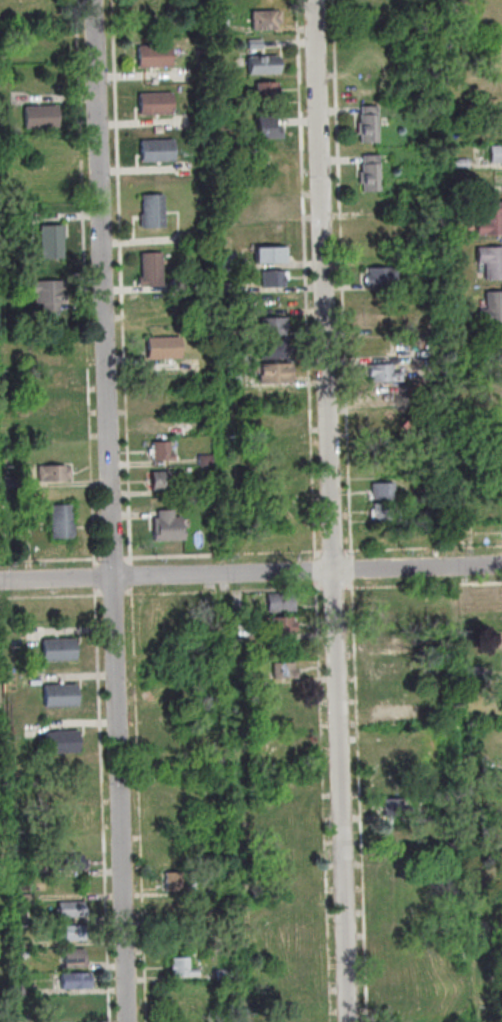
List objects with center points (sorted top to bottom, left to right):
building: (405, 0)
building: (362, 8)
building: (492, 11)
building: (266, 22)
building: (222, 27)
building: (256, 46)
building: (45, 49)
building: (155, 59)
building: (264, 66)
building: (497, 71)
building: (267, 91)
building: (156, 106)
building: (43, 119)
building: (371, 125)
building: (268, 132)
building: (158, 152)
building: (497, 156)
building: (269, 160)
building: (460, 164)
building: (372, 174)
building: (49, 190)
building: (272, 208)
building: (153, 212)
building: (491, 221)
building: (378, 229)
building: (53, 243)
building: (272, 255)
building: (229, 261)
building: (492, 263)
building: (152, 271)
building: (382, 277)
building: (274, 279)
road: (344, 279)
road: (307, 280)
road: (86, 283)
road: (123, 283)
building: (181, 286)
building: (230, 288)
building: (50, 293)
building: (493, 310)
building: (276, 327)
building: (165, 350)
building: (275, 351)
building: (275, 373)
building: (384, 374)
building: (234, 379)
building: (55, 380)
building: (14, 387)
building: (497, 388)
building: (159, 399)
building: (58, 402)
building: (277, 420)
building: (60, 427)
building: (163, 452)
building: (207, 460)
building: (279, 466)
building: (55, 474)
building: (161, 482)
building: (12, 483)
building: (384, 491)
road: (112, 510)
road: (333, 510)
building: (384, 513)
building: (468, 516)
building: (437, 517)
building: (63, 524)
building: (168, 529)
building: (377, 532)
road: (424, 549)
road: (335, 552)
road: (225, 555)
road: (114, 559)
road: (51, 561)
road: (353, 569)
road: (316, 570)
road: (251, 572)
road: (132, 576)
road: (96, 577)
road: (350, 588)
road: (335, 589)
road: (224, 592)
road: (113, 595)
road: (51, 597)
building: (387, 600)
building: (281, 602)
building: (62, 609)
building: (387, 622)
building: (283, 625)
building: (168, 628)
building: (240, 630)
building: (59, 649)
building: (390, 666)
building: (283, 671)
building: (473, 673)
building: (244, 677)
building: (389, 689)
building: (285, 692)
building: (61, 695)
building: (172, 695)
building: (500, 696)
building: (285, 715)
building: (288, 740)
building: (62, 741)
building: (169, 742)
building: (475, 763)
building: (289, 783)
building: (392, 783)
building: (67, 791)
building: (172, 793)
road: (360, 800)
road: (324, 801)
road: (139, 804)
road: (102, 805)
building: (394, 807)
building: (290, 809)
building: (395, 831)
building: (174, 850)
building: (69, 861)
building: (398, 862)
building: (290, 879)
building: (174, 882)
building: (220, 886)
building: (23, 898)
building: (394, 900)
building: (290, 903)
building: (72, 909)
building: (399, 924)
building: (294, 930)
building: (74, 932)
building: (24, 944)
building: (402, 947)
building: (295, 952)
building: (24, 954)
building: (74, 957)
building: (182, 967)
building: (400, 969)
building: (224, 975)
building: (296, 976)
building: (75, 981)
building: (26, 990)
building: (401, 997)
building: (79, 1005)
building: (296, 1019)
building: (402, 1019)

